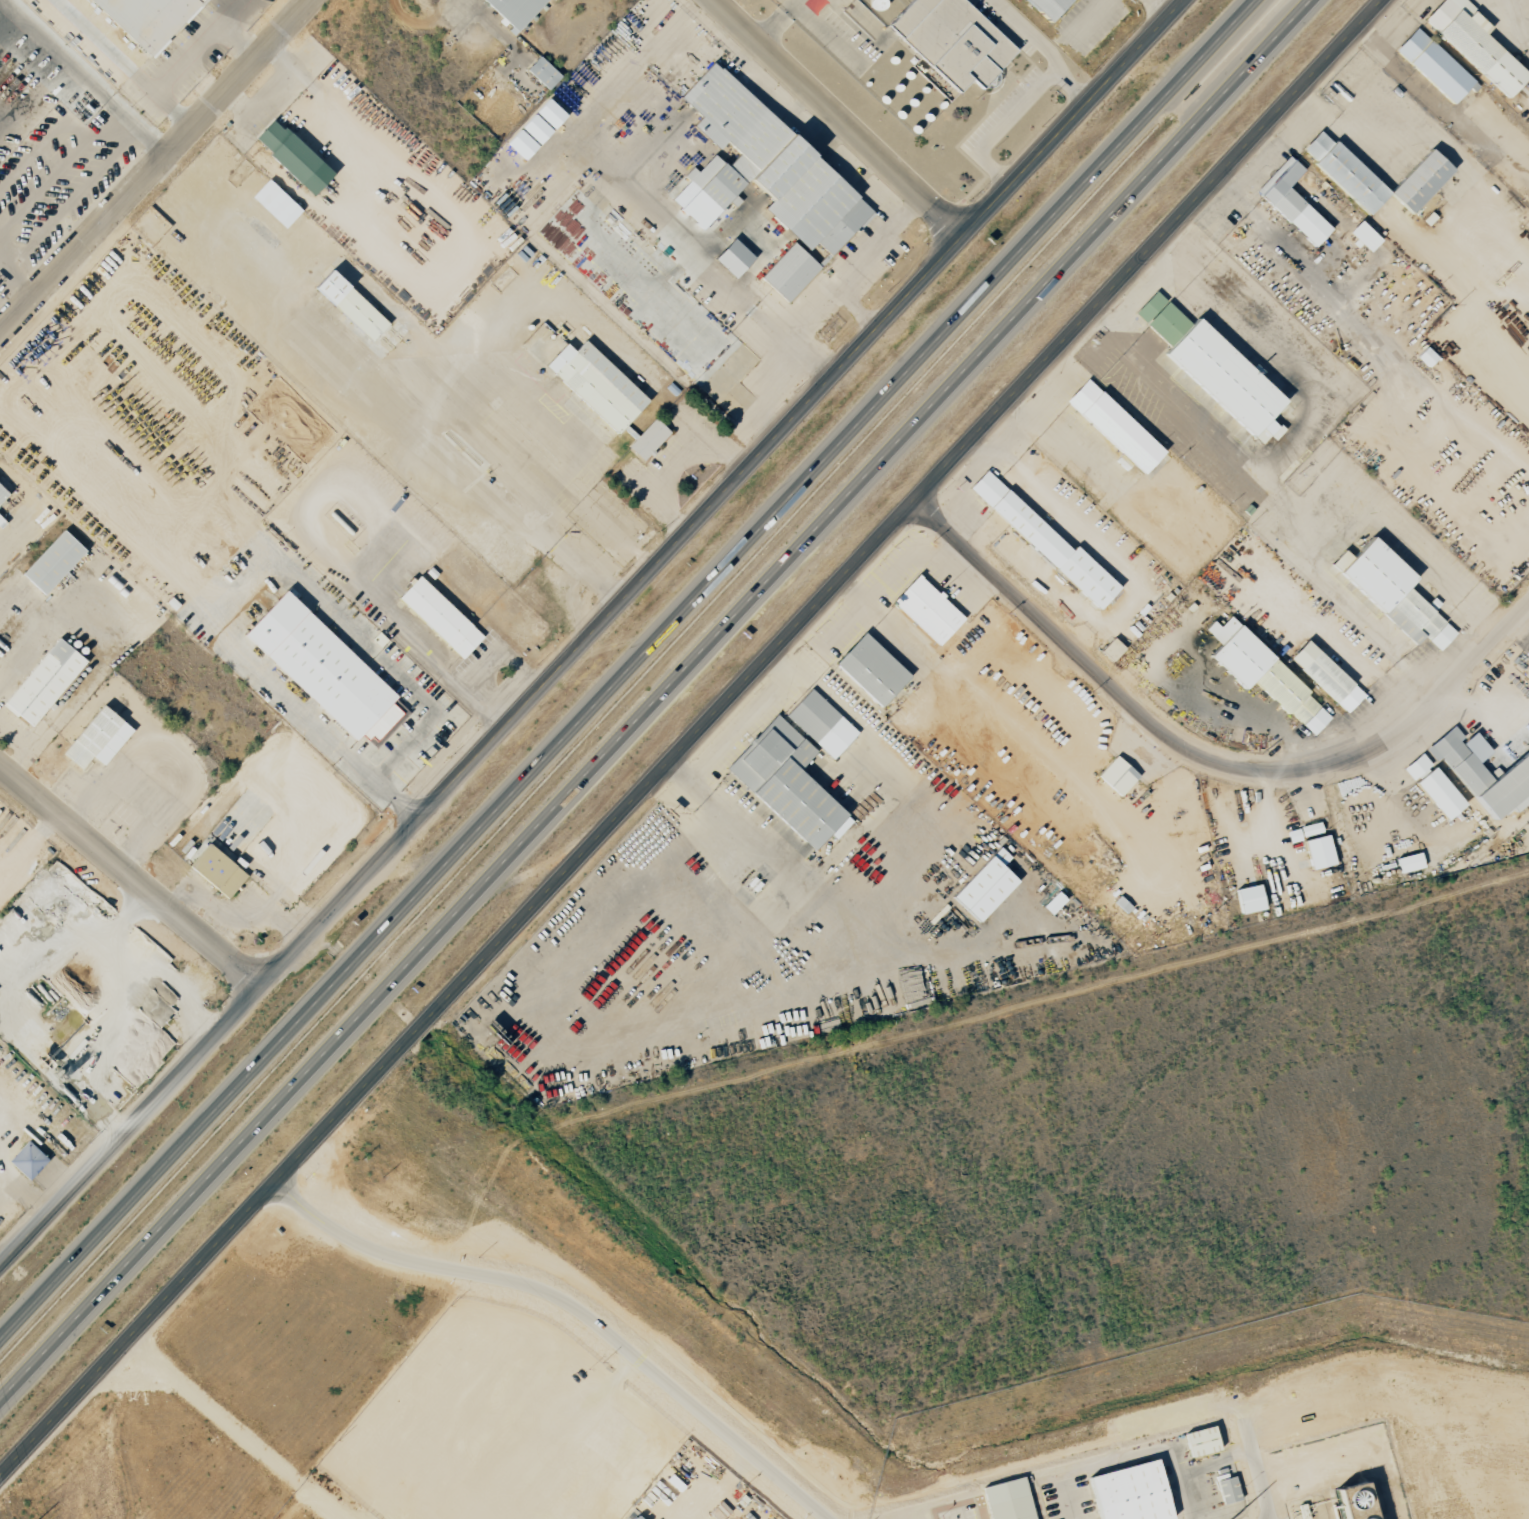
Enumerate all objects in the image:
building: (1047, 7)
road: (232, 10)
building: (515, 10)
building: (147, 19)
road: (1520, 27)
building: (952, 40)
building: (1475, 43)
road: (1044, 47)
road: (188, 55)
road: (70, 64)
building: (1433, 65)
building: (542, 72)
road: (837, 118)
road: (1002, 125)
building: (535, 128)
road: (153, 143)
building: (291, 156)
road: (157, 168)
building: (762, 168)
building: (1344, 171)
building: (1420, 180)
road: (74, 198)
building: (1291, 202)
building: (275, 203)
building: (636, 218)
building: (1363, 236)
building: (732, 258)
building: (789, 272)
road: (22, 282)
building: (349, 305)
building: (1426, 357)
building: (1214, 368)
building: (596, 384)
building: (1114, 427)
road: (1300, 438)
building: (648, 439)
building: (2, 493)
road: (723, 494)
road: (30, 507)
road: (1092, 538)
building: (1044, 542)
building: (52, 562)
building: (1391, 592)
road: (1341, 596)
building: (927, 610)
road: (208, 615)
building: (439, 617)
road: (48, 629)
building: (1111, 649)
road: (625, 668)
building: (322, 669)
building: (870, 669)
building: (1263, 674)
building: (1325, 676)
building: (43, 682)
road: (72, 695)
road: (653, 698)
building: (821, 724)
road: (693, 737)
building: (97, 739)
road: (1205, 756)
road: (161, 771)
building: (1483, 773)
building: (1117, 776)
building: (786, 783)
building: (1432, 787)
building: (1304, 832)
building: (1318, 852)
building: (1409, 862)
building: (216, 871)
road: (131, 875)
building: (985, 886)
building: (1249, 899)
building: (1053, 903)
road: (131, 1127)
road: (574, 1308)
road: (236, 1428)
power plant: (1243, 1428)
power plant: (512, 1437)
building: (1202, 1441)
building: (1229, 1491)
building: (1131, 1493)
building: (1009, 1500)
building: (1353, 1502)

